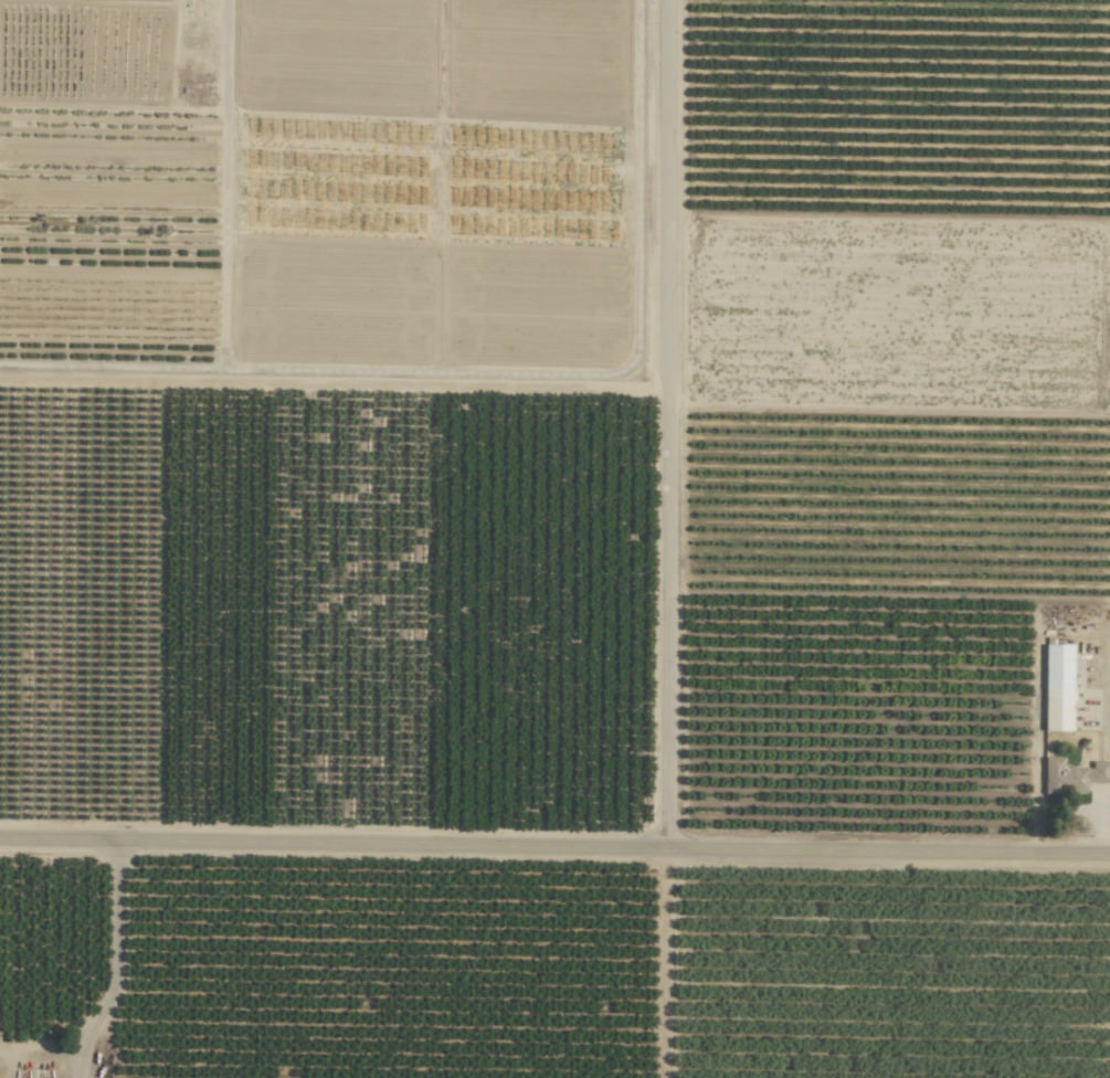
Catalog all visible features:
crop: (318, 169)
road: (224, 273)
road: (588, 373)
road: (669, 427)
building: (1057, 687)
road: (1107, 702)
building: (1071, 775)
road: (554, 853)
road: (114, 966)
road: (668, 966)
road: (39, 1055)

